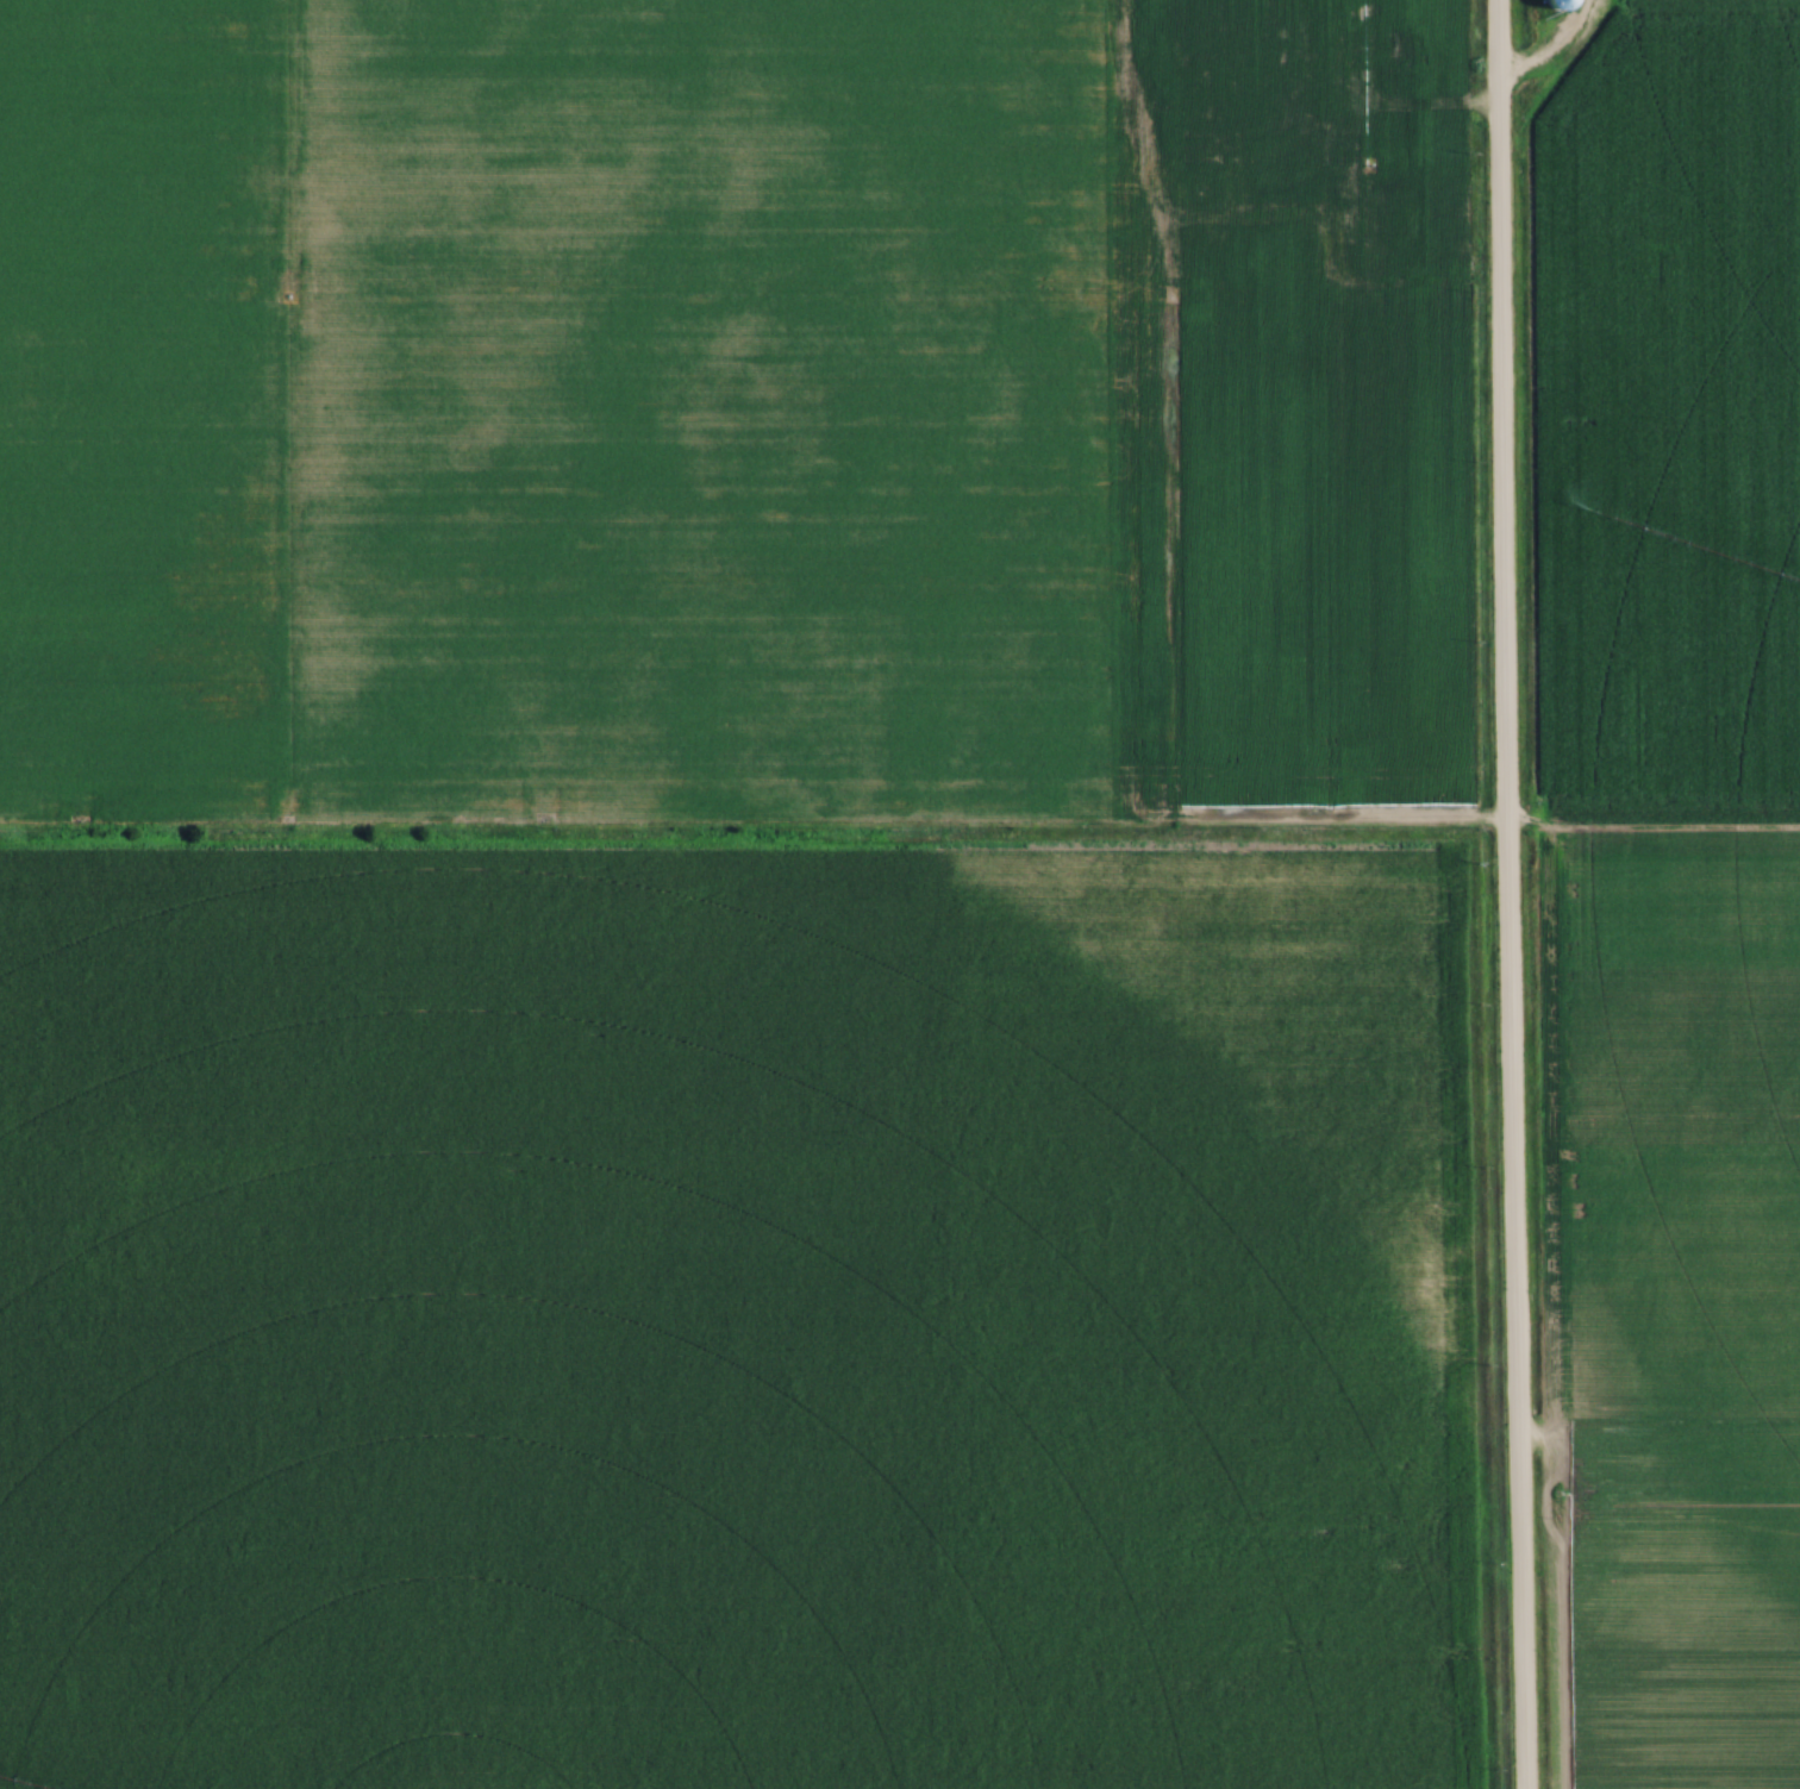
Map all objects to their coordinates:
building: (1195, 27)
building: (1361, 30)
road: (1545, 46)
building: (1395, 54)
road: (1406, 112)
building: (1350, 224)
road: (1506, 894)

